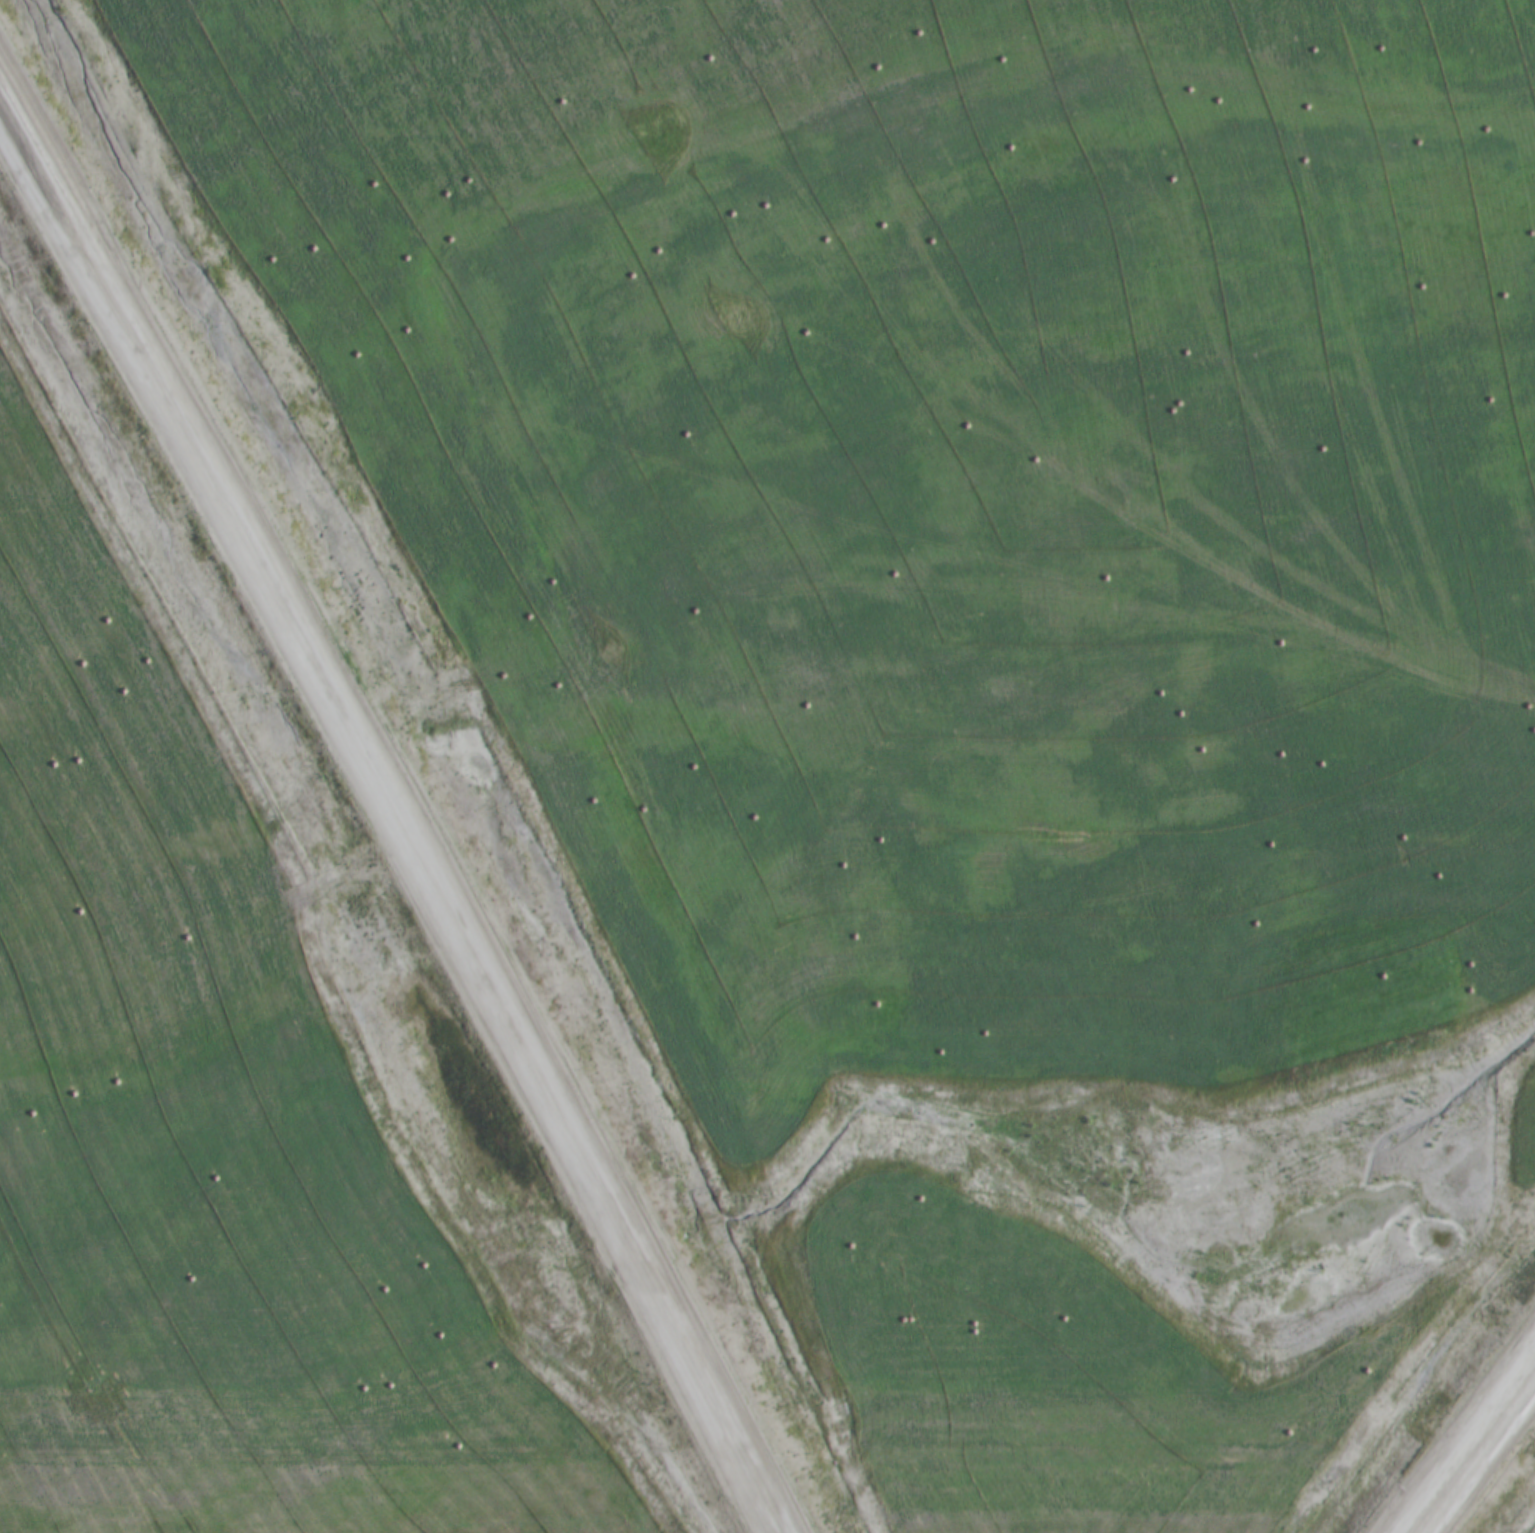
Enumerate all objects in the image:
quarry: (1401, 1522)

